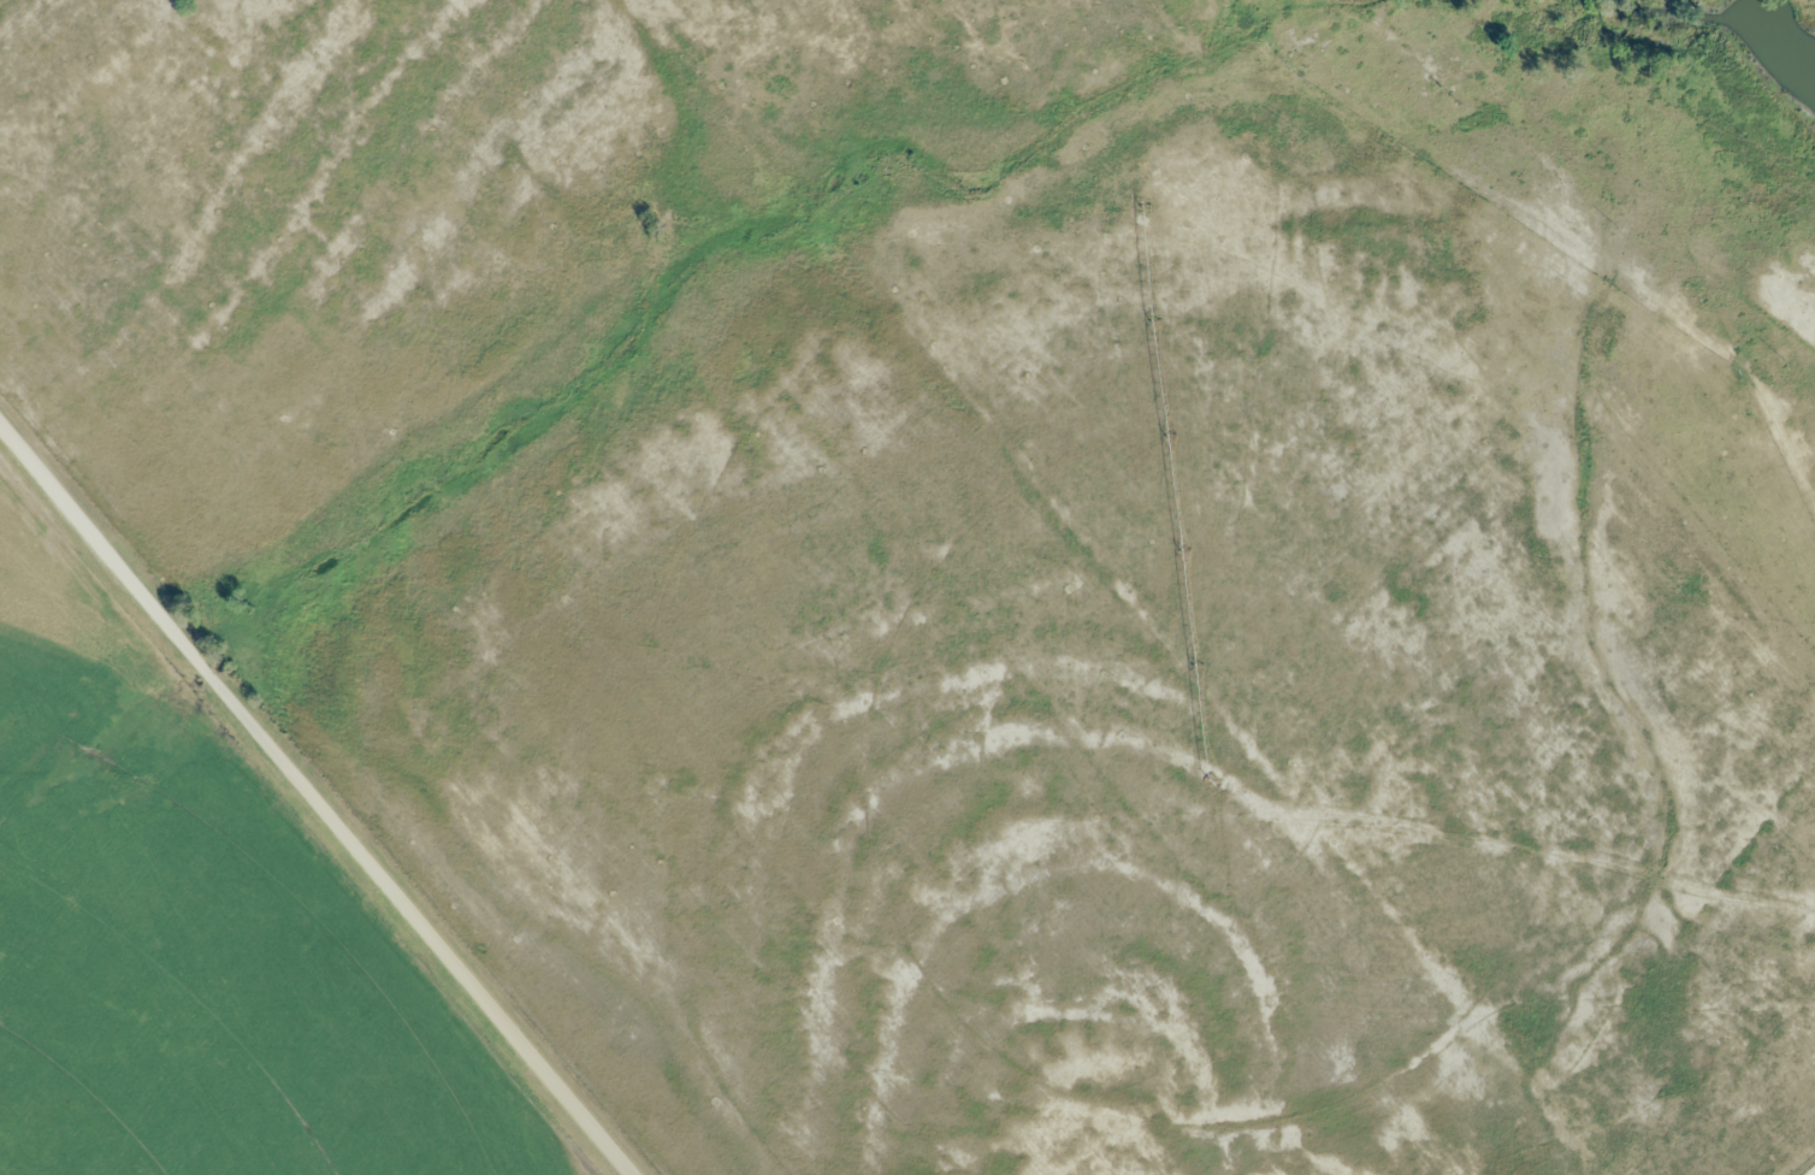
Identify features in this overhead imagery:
road: (314, 802)
road: (1814, 1174)

